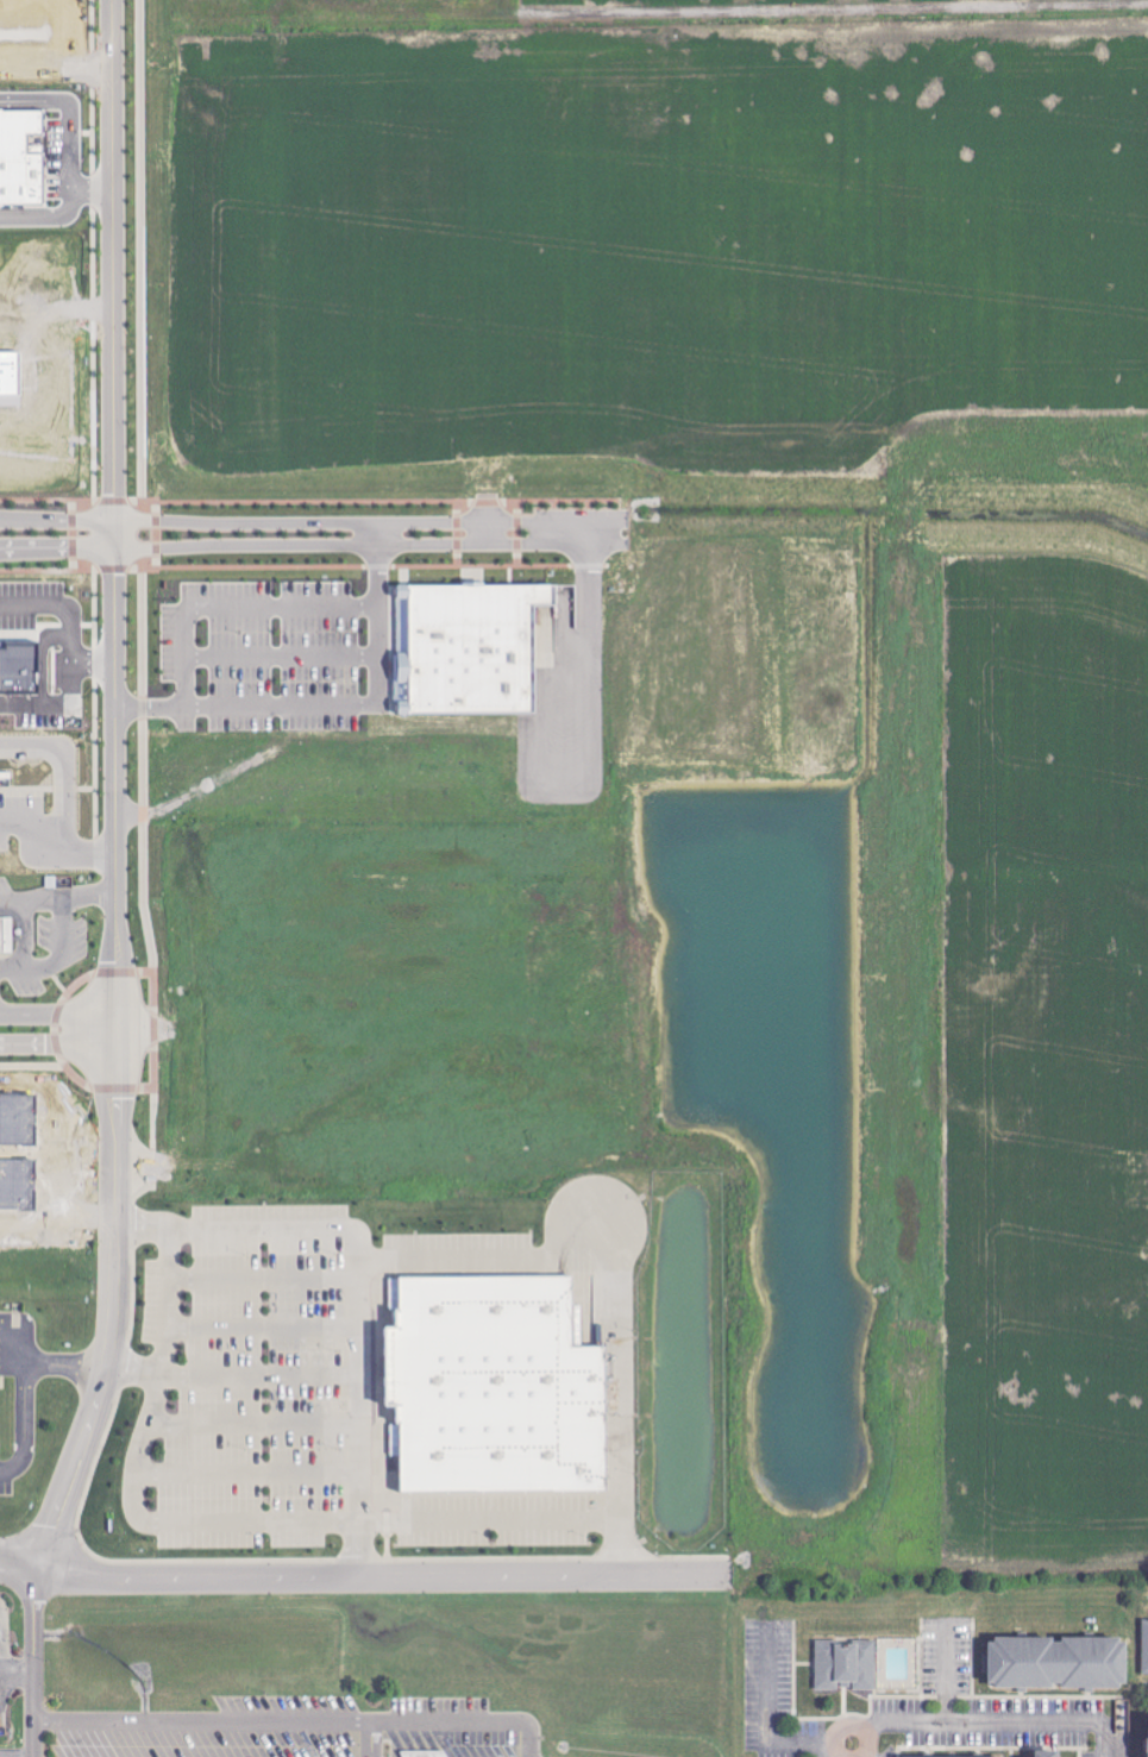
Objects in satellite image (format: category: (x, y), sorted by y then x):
road: (69, 113)
road: (94, 190)
road: (49, 215)
road: (94, 249)
road: (114, 266)
road: (58, 519)
road: (350, 520)
road: (588, 532)
road: (350, 547)
road: (58, 551)
road: (378, 563)
road: (236, 605)
road: (114, 646)
building: (468, 648)
road: (73, 652)
parking lot: (281, 655)
road: (282, 658)
road: (43, 659)
road: (93, 660)
road: (589, 666)
building: (18, 669)
road: (150, 704)
road: (331, 704)
road: (57, 837)
road: (87, 892)
road: (63, 923)
building: (6, 936)
road: (56, 1010)
road: (55, 1041)
road: (108, 1167)
road: (355, 1279)
road: (90, 1364)
building: (496, 1391)
road: (20, 1392)
road: (255, 1521)
road: (362, 1575)
building: (1142, 1645)
road: (30, 1659)
building: (1050, 1662)
building: (847, 1664)
road: (5, 1667)
road: (20, 1668)
road: (947, 1668)
road: (5, 1676)
road: (770, 1713)
road: (293, 1720)
road: (853, 1720)
road: (981, 1720)
road: (1106, 1737)
road: (366, 1739)
building: (1144, 1739)
road: (827, 1750)
road: (872, 1752)
building: (1041, 1753)
road: (14, 1755)

